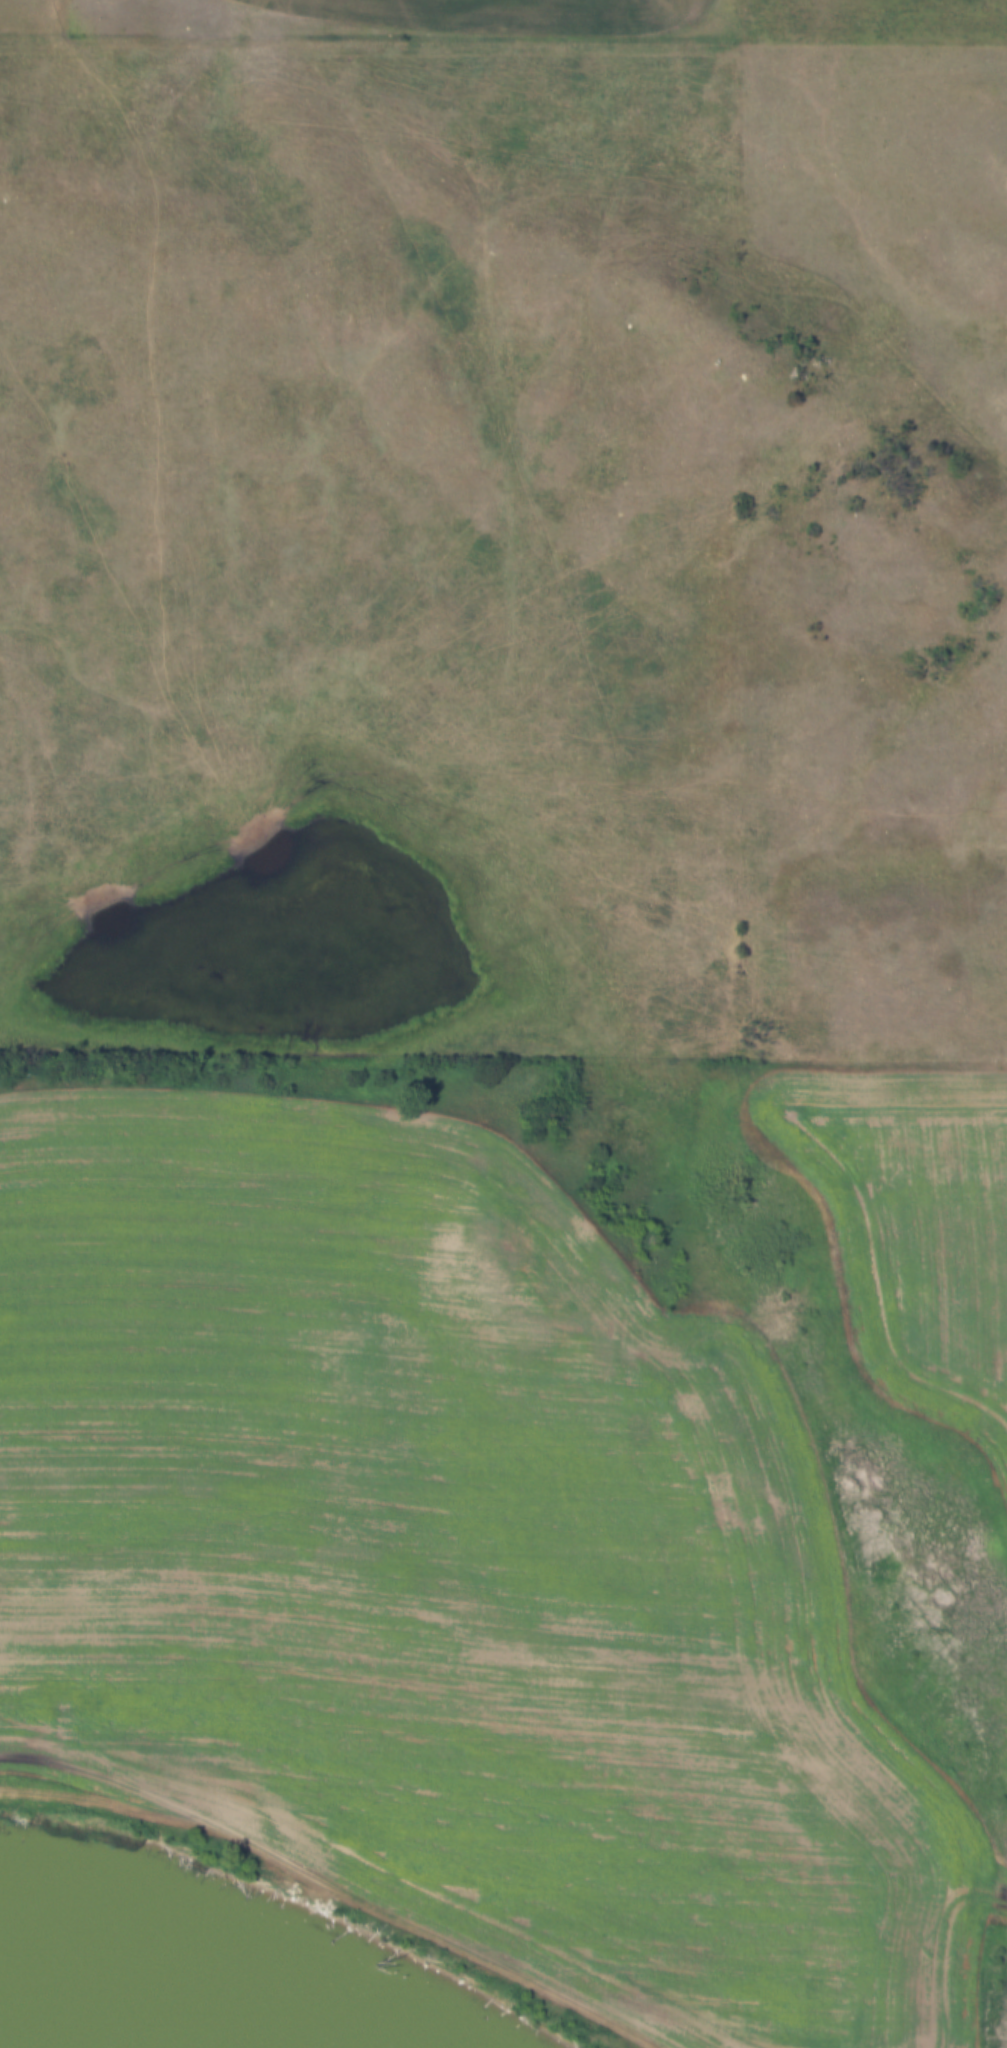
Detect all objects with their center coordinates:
road: (343, 1886)

